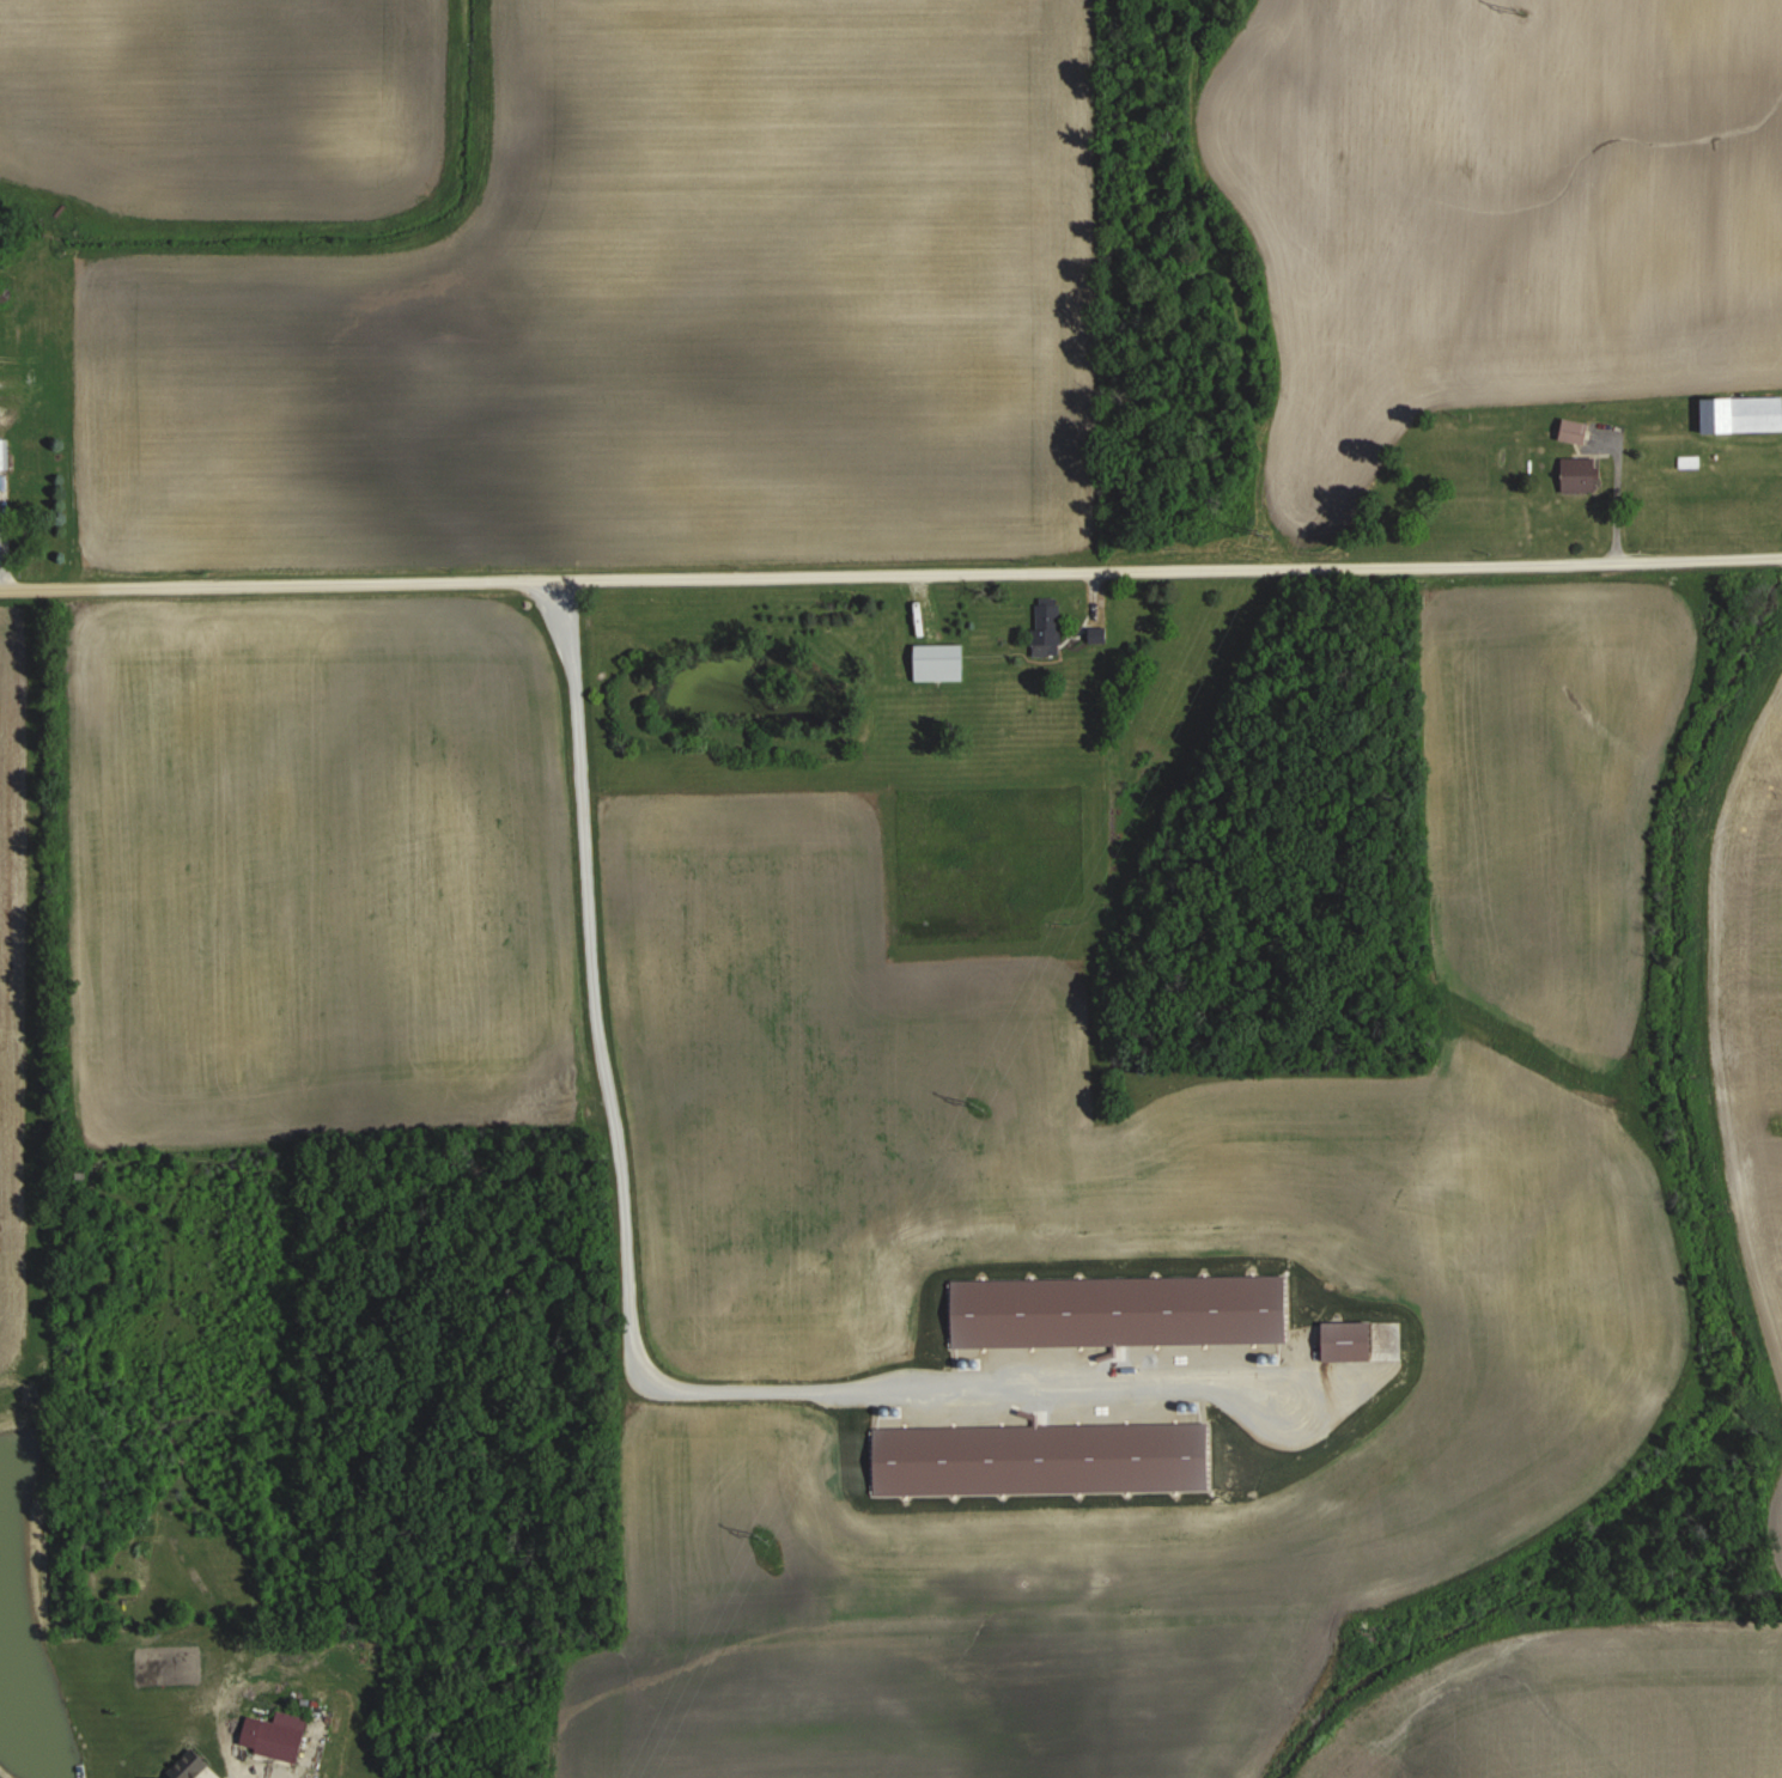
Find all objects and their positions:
power tower: (1531, 18)
building: (1740, 412)
building: (1571, 428)
building: (4, 452)
building: (1576, 473)
power tower: (1267, 538)
road: (890, 572)
building: (1045, 626)
building: (938, 660)
power tower: (985, 1109)
road: (630, 1298)
power tower: (771, 1535)
building: (282, 1735)

